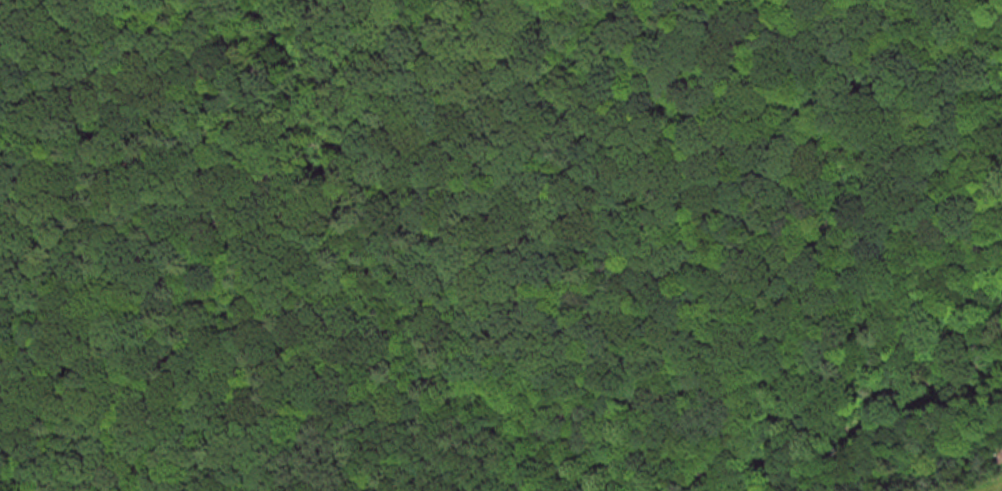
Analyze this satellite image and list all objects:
park: (492, 199)

